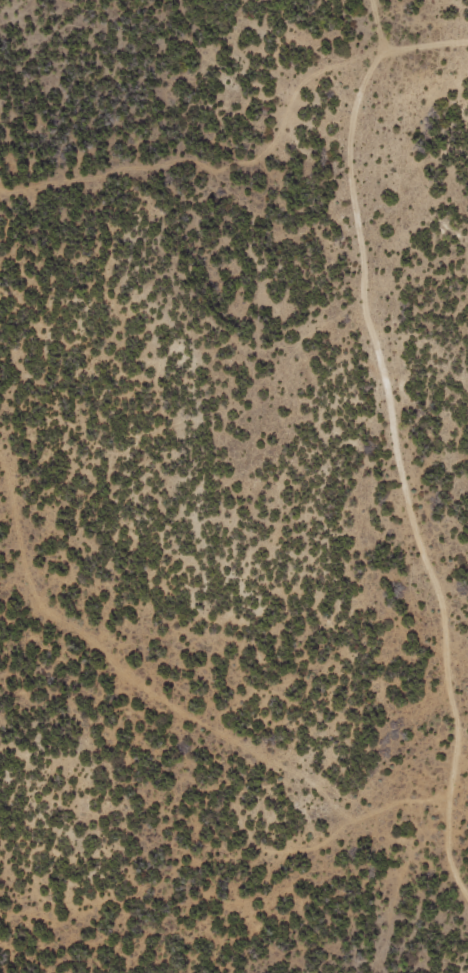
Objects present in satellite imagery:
road: (387, 358)

